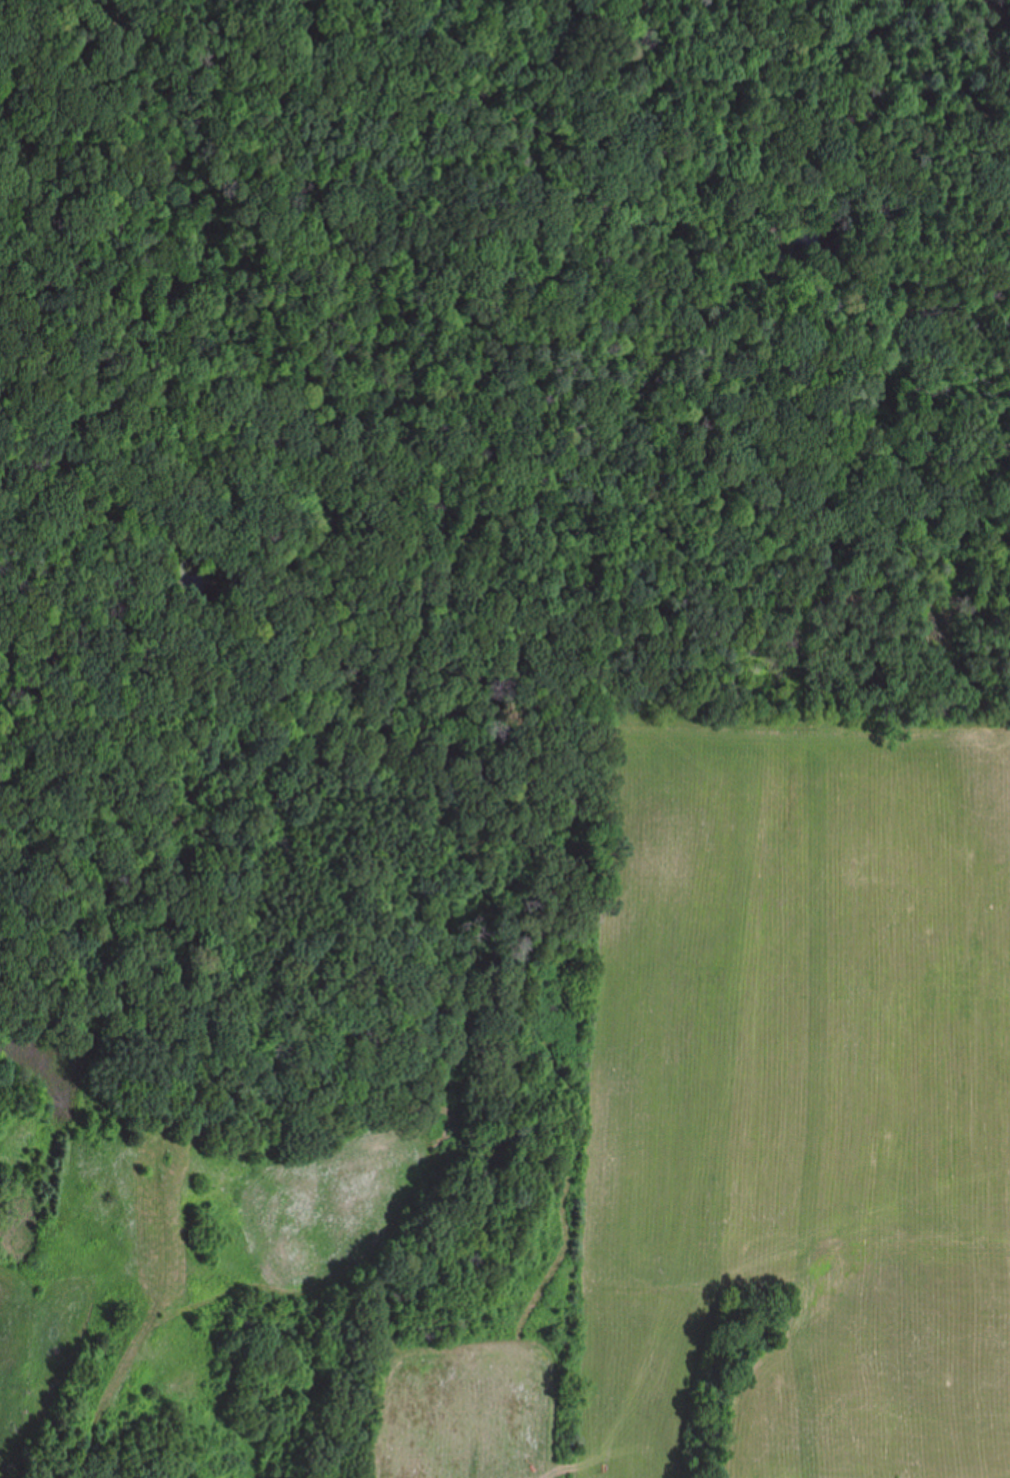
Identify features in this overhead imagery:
crop: (797, 1094)

